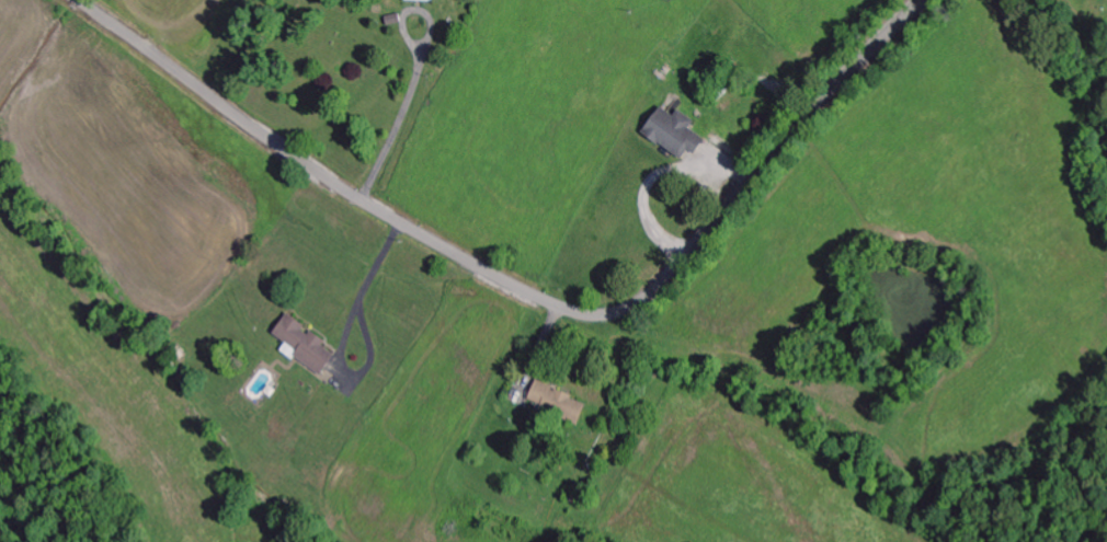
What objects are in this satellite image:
building: (420, 0)
building: (672, 132)
road: (524, 292)
building: (303, 345)
building: (567, 407)

